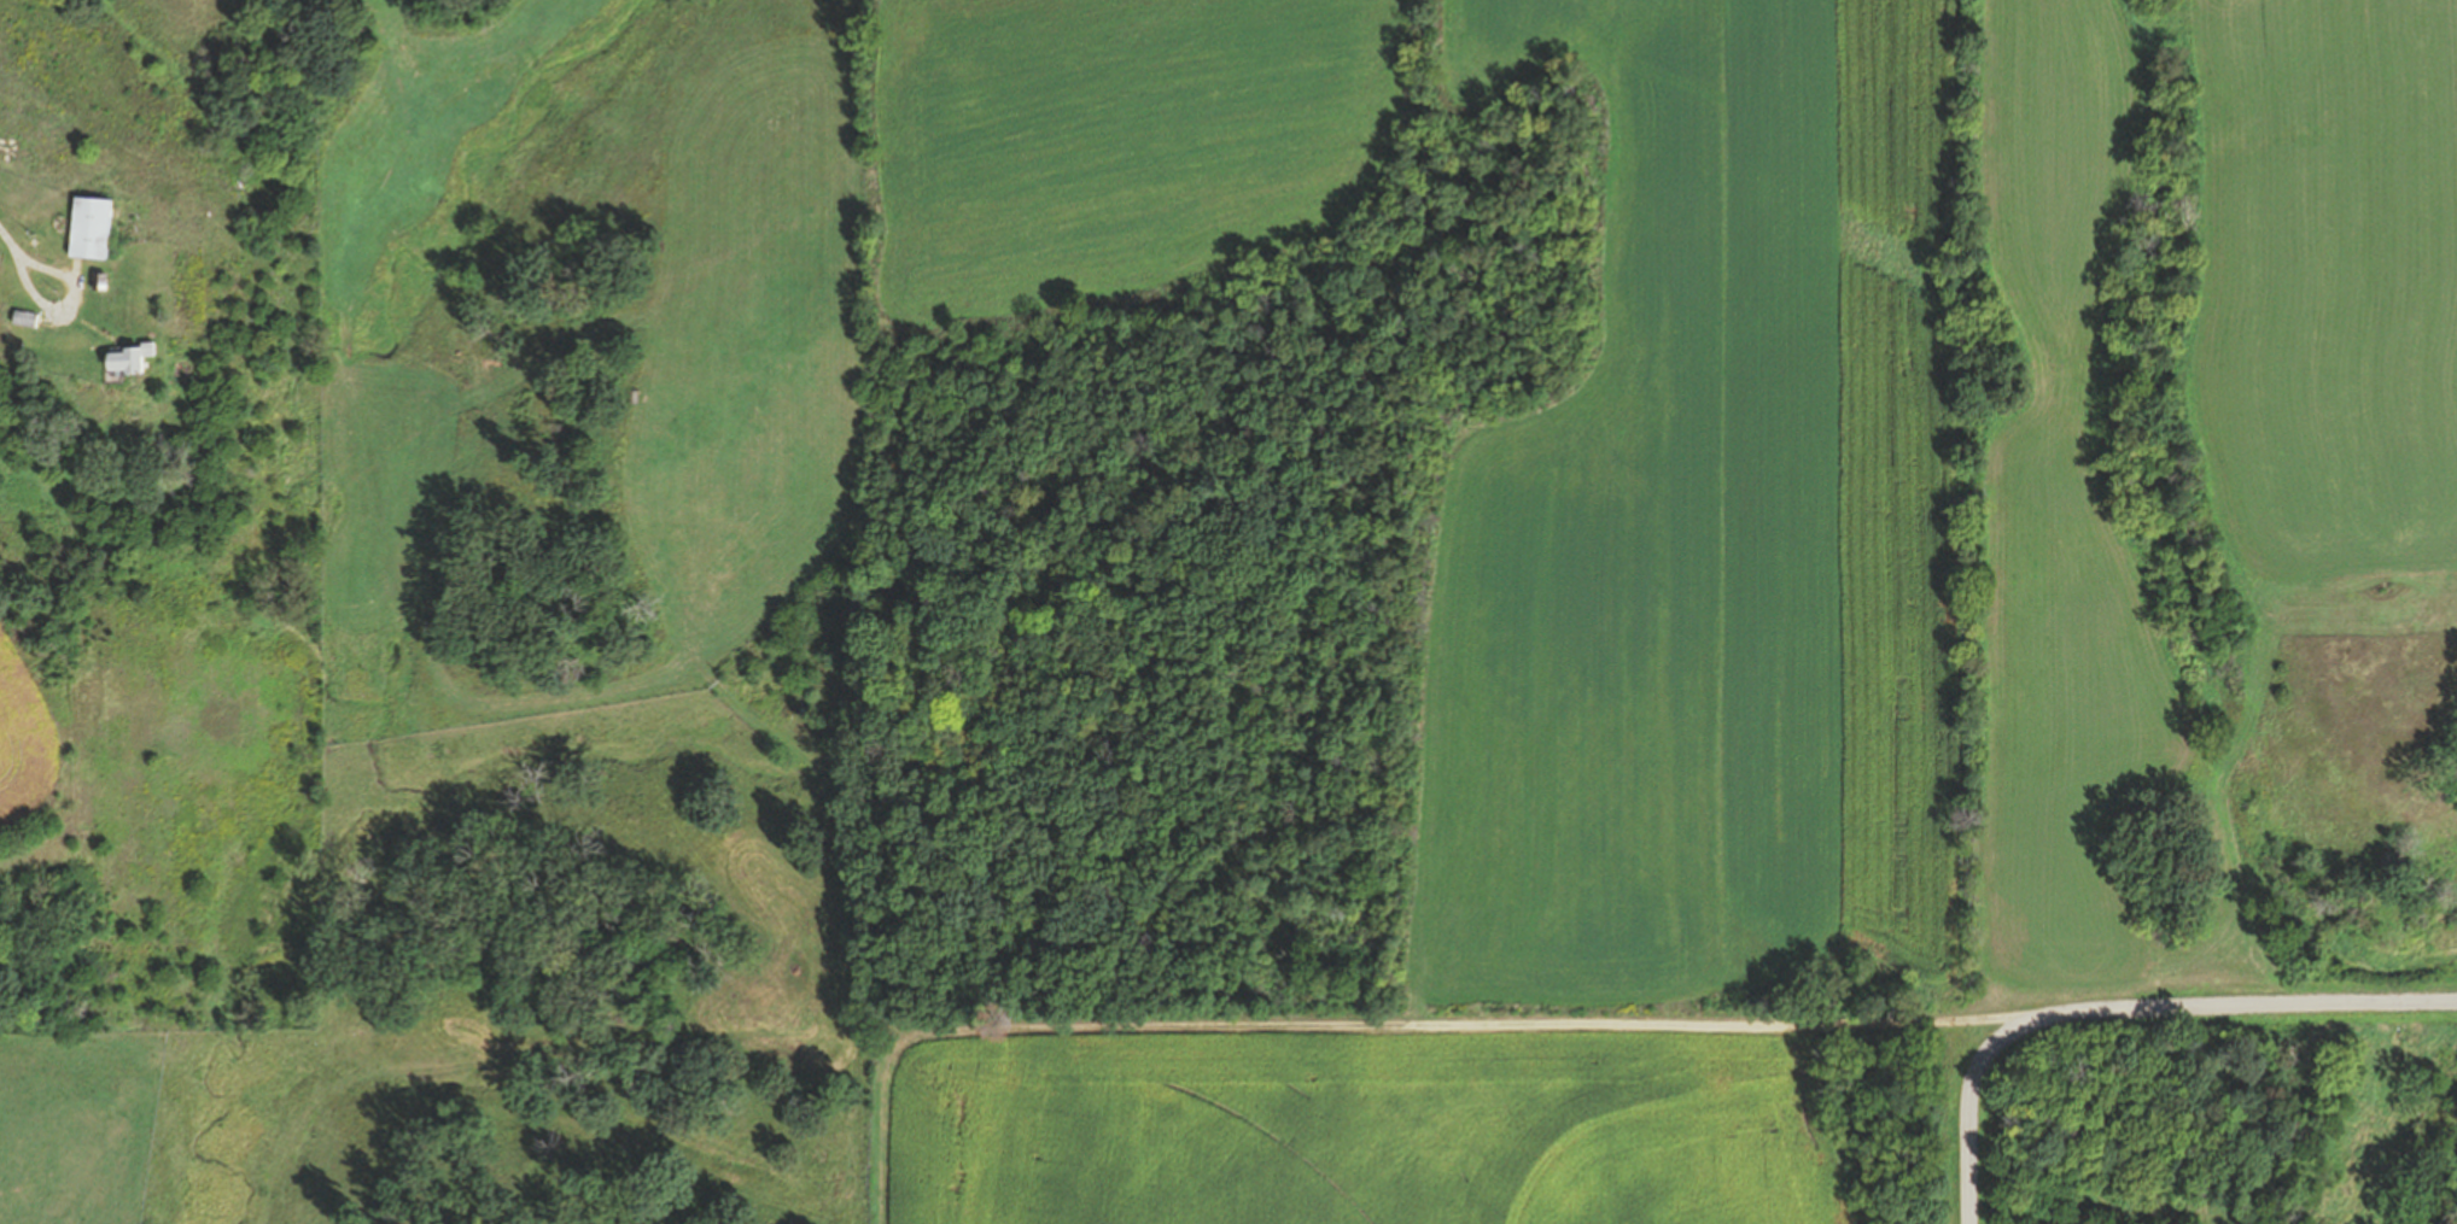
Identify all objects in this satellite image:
building: (89, 227)
road: (60, 238)
building: (98, 277)
building: (24, 320)
building: (127, 358)
road: (2128, 1011)

